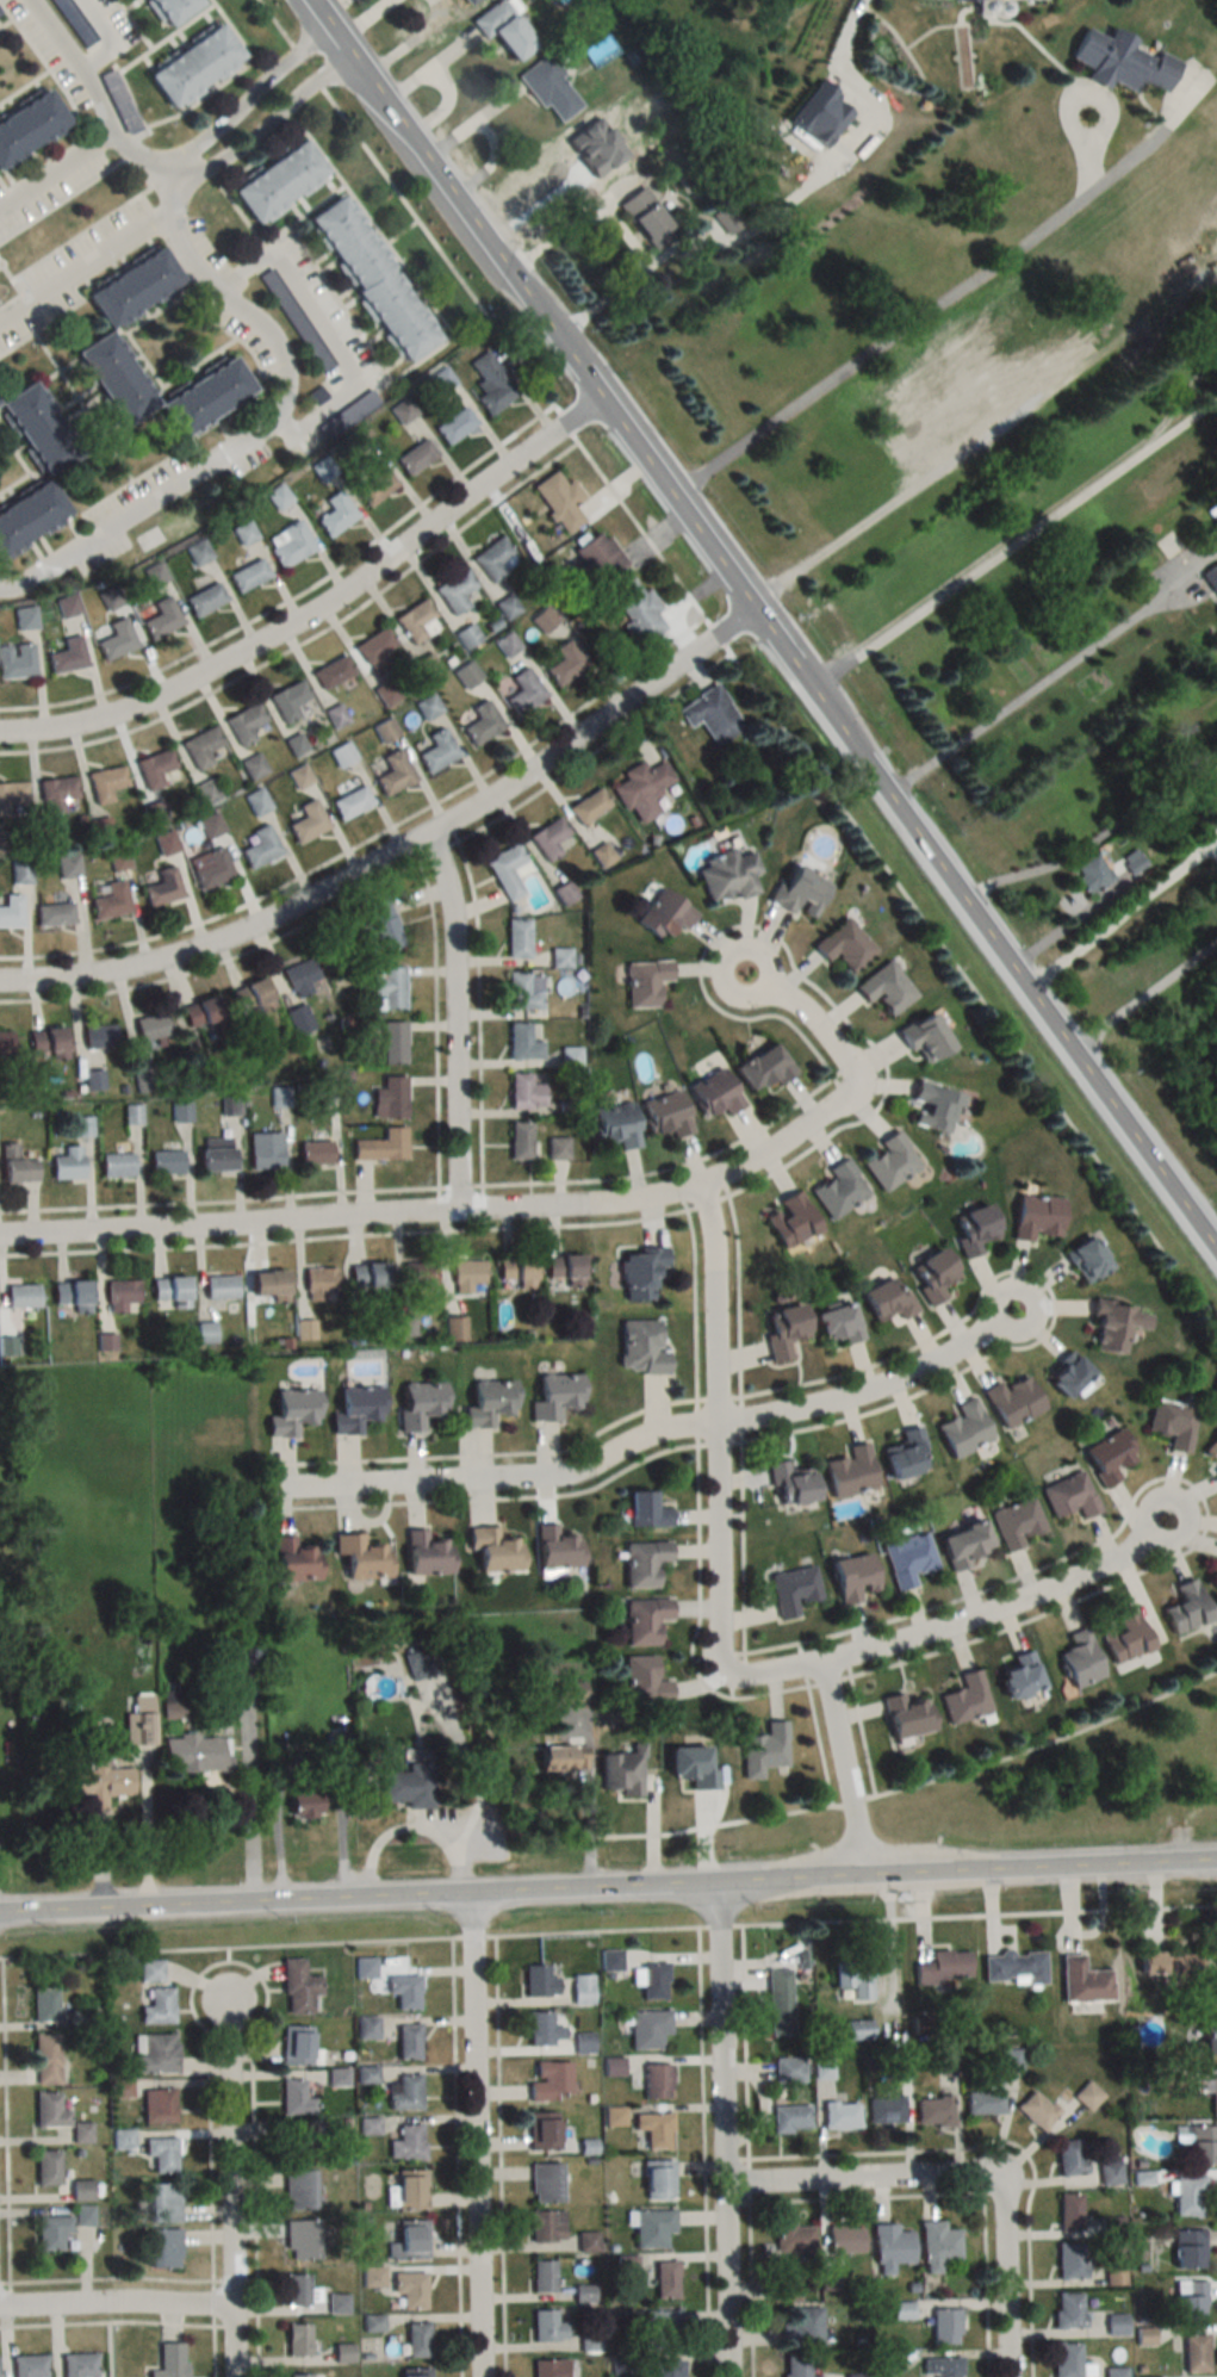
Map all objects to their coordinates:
building: (470, 1)
building: (167, 10)
building: (502, 29)
road: (111, 37)
road: (838, 52)
building: (1119, 61)
building: (193, 67)
building: (549, 89)
road: (94, 91)
building: (820, 113)
building: (29, 126)
road: (485, 136)
road: (184, 167)
road: (57, 174)
road: (169, 175)
building: (278, 182)
building: (1216, 193)
building: (645, 218)
building: (726, 218)
road: (628, 236)
road: (85, 265)
building: (370, 279)
building: (132, 287)
road: (323, 327)
building: (306, 337)
building: (113, 378)
building: (491, 381)
building: (315, 396)
building: (205, 398)
building: (347, 414)
building: (454, 424)
building: (37, 429)
road: (260, 434)
building: (416, 455)
road: (962, 455)
building: (323, 468)
road: (695, 479)
building: (375, 483)
building: (560, 502)
building: (336, 514)
building: (29, 517)
building: (244, 533)
building: (290, 544)
road: (1012, 544)
building: (600, 557)
building: (493, 558)
building: (248, 575)
building: (1211, 577)
building: (455, 592)
building: (205, 598)
building: (68, 606)
building: (508, 607)
road: (318, 608)
building: (638, 612)
building: (29, 616)
building: (161, 619)
building: (544, 620)
building: (416, 621)
road: (764, 628)
building: (467, 637)
building: (117, 640)
building: (508, 644)
building: (375, 650)
building: (68, 656)
building: (17, 660)
building: (565, 663)
building: (427, 665)
building: (331, 672)
building: (466, 675)
road: (1051, 675)
building: (524, 691)
building: (386, 693)
building: (288, 700)
building: (428, 707)
building: (336, 715)
building: (712, 715)
building: (244, 722)
building: (482, 724)
building: (385, 731)
building: (296, 744)
building: (203, 746)
building: (437, 751)
building: (342, 753)
building: (253, 765)
building: (159, 768)
building: (393, 774)
building: (299, 776)
building: (106, 783)
building: (641, 789)
building: (205, 792)
building: (56, 794)
building: (12, 797)
building: (256, 801)
building: (350, 802)
building: (588, 806)
building: (155, 812)
building: (308, 821)
building: (210, 825)
building: (103, 828)
building: (46, 836)
road: (1095, 837)
building: (548, 838)
building: (166, 843)
building: (261, 846)
road: (398, 849)
building: (119, 858)
building: (68, 865)
building: (213, 868)
building: (21, 871)
building: (508, 871)
building: (1092, 871)
building: (727, 875)
building: (163, 887)
building: (799, 892)
building: (112, 900)
building: (11, 911)
road: (1120, 911)
building: (55, 914)
building: (663, 914)
building: (381, 925)
road: (1050, 933)
building: (517, 938)
building: (844, 944)
building: (300, 978)
building: (644, 982)
building: (386, 987)
building: (884, 988)
building: (521, 993)
road: (1141, 994)
building: (252, 997)
building: (199, 1012)
road: (802, 1018)
building: (299, 1020)
road: (454, 1020)
building: (151, 1028)
building: (100, 1037)
building: (923, 1038)
building: (6, 1043)
building: (393, 1043)
building: (522, 1043)
building: (46, 1044)
building: (571, 1056)
building: (762, 1068)
building: (94, 1080)
building: (144, 1081)
building: (524, 1092)
building: (715, 1093)
building: (279, 1097)
building: (390, 1099)
building: (932, 1107)
building: (181, 1112)
building: (665, 1113)
building: (132, 1115)
building: (615, 1125)
building: (82, 1127)
building: (520, 1141)
building: (381, 1147)
building: (558, 1148)
building: (265, 1152)
building: (215, 1154)
building: (315, 1154)
building: (890, 1161)
building: (166, 1162)
building: (68, 1163)
building: (116, 1165)
building: (15, 1166)
building: (839, 1188)
road: (443, 1212)
building: (1036, 1216)
building: (790, 1219)
building: (974, 1229)
building: (1085, 1260)
building: (515, 1271)
building: (564, 1272)
building: (639, 1272)
building: (933, 1274)
building: (417, 1276)
building: (467, 1276)
building: (367, 1278)
building: (319, 1284)
building: (267, 1285)
building: (219, 1287)
building: (169, 1291)
building: (122, 1296)
building: (21, 1297)
building: (70, 1298)
building: (887, 1299)
building: (837, 1324)
building: (1114, 1327)
building: (782, 1330)
building: (205, 1333)
building: (641, 1348)
building: (1067, 1377)
building: (554, 1397)
building: (1011, 1402)
building: (489, 1403)
building: (418, 1404)
building: (355, 1408)
building: (291, 1410)
building: (1172, 1425)
road: (716, 1428)
building: (962, 1429)
road: (651, 1435)
building: (1211, 1450)
building: (906, 1454)
building: (1107, 1457)
building: (1215, 1470)
building: (849, 1472)
building: (789, 1484)
building: (1069, 1496)
building: (646, 1510)
building: (1016, 1522)
building: (963, 1544)
building: (492, 1550)
building: (554, 1551)
building: (426, 1554)
building: (361, 1557)
building: (906, 1559)
building: (292, 1560)
building: (642, 1563)
building: (851, 1578)
building: (1216, 1588)
building: (793, 1590)
building: (1185, 1608)
building: (644, 1619)
road: (960, 1622)
building: (1123, 1636)
building: (1079, 1659)
building: (423, 1662)
building: (231, 1669)
building: (1018, 1676)
building: (644, 1680)
building: (964, 1698)
building: (906, 1714)
building: (137, 1727)
building: (763, 1749)
building: (193, 1754)
building: (563, 1758)
building: (622, 1770)
road: (844, 1770)
building: (98, 1783)
building: (408, 1785)
road: (246, 1796)
building: (303, 1802)
road: (608, 1888)
road: (980, 1913)
road: (721, 1925)
road: (598, 1931)
road: (473, 1936)
road: (226, 1947)
road: (226, 1954)
road: (1, 1959)
building: (1171, 1963)
building: (943, 1967)
building: (1013, 1967)
building: (148, 1971)
building: (851, 1978)
building: (539, 1981)
building: (653, 1981)
building: (1082, 1981)
building: (297, 1986)
road: (266, 1987)
building: (582, 1990)
building: (403, 1991)
building: (1215, 1993)
building: (780, 2001)
building: (42, 2005)
building: (155, 2006)
building: (542, 2028)
building: (647, 2029)
building: (1209, 2036)
building: (406, 2041)
road: (745, 2041)
building: (293, 2046)
building: (151, 2053)
building: (43, 2059)
building: (1010, 2059)
building: (789, 2069)
building: (822, 2069)
building: (549, 2080)
building: (656, 2080)
building: (404, 2092)
building: (1088, 2096)
building: (1213, 2096)
building: (293, 2098)
building: (983, 2102)
building: (156, 2104)
building: (46, 2110)
building: (886, 2110)
building: (1036, 2110)
building: (933, 2111)
building: (839, 2115)
road: (6, 2120)
building: (789, 2120)
building: (654, 2129)
building: (542, 2130)
road: (722, 2130)
building: (79, 2131)
road: (476, 2134)
road: (1002, 2139)
building: (296, 2142)
building: (406, 2142)
building: (1202, 2145)
road: (706, 2152)
building: (160, 2153)
road: (501, 2156)
building: (1069, 2156)
road: (458, 2158)
building: (44, 2167)
building: (657, 2179)
road: (749, 2179)
road: (857, 2180)
building: (545, 2181)
road: (229, 2189)
building: (409, 2189)
building: (79, 2190)
building: (298, 2190)
building: (1188, 2196)
building: (162, 2202)
building: (1069, 2211)
building: (83, 2215)
building: (547, 2226)
building: (652, 2227)
building: (50, 2232)
building: (794, 2238)
building: (299, 2239)
building: (844, 2239)
building: (409, 2240)
building: (588, 2240)
building: (936, 2246)
building: (889, 2247)
building: (162, 2248)
building: (1188, 2248)
building: (1069, 2261)
building: (544, 2274)
building: (371, 2276)
road: (112, 2277)
building: (665, 2279)
road: (1002, 2279)
road: (5, 2282)
road: (752, 2289)
building: (788, 2289)
building: (298, 2290)
building: (409, 2290)
building: (583, 2294)
building: (1188, 2300)
road: (213, 2302)
building: (337, 2303)
road: (114, 2308)
building: (1067, 2309)
road: (107, 2321)
building: (1116, 2323)
building: (547, 2326)
building: (801, 2326)
building: (943, 2326)
building: (663, 2329)
building: (297, 2339)
building: (417, 2340)
building: (590, 2342)
road: (215, 2351)
building: (342, 2353)
building: (1194, 2353)
building: (1066, 2359)
building: (168, 2360)
building: (76, 2365)
building: (26, 2366)
building: (795, 2366)
building: (939, 2366)
building: (549, 2367)
building: (668, 2369)
building: (415, 2371)
building: (1114, 2371)
building: (855, 2375)
building: (303, 2376)

